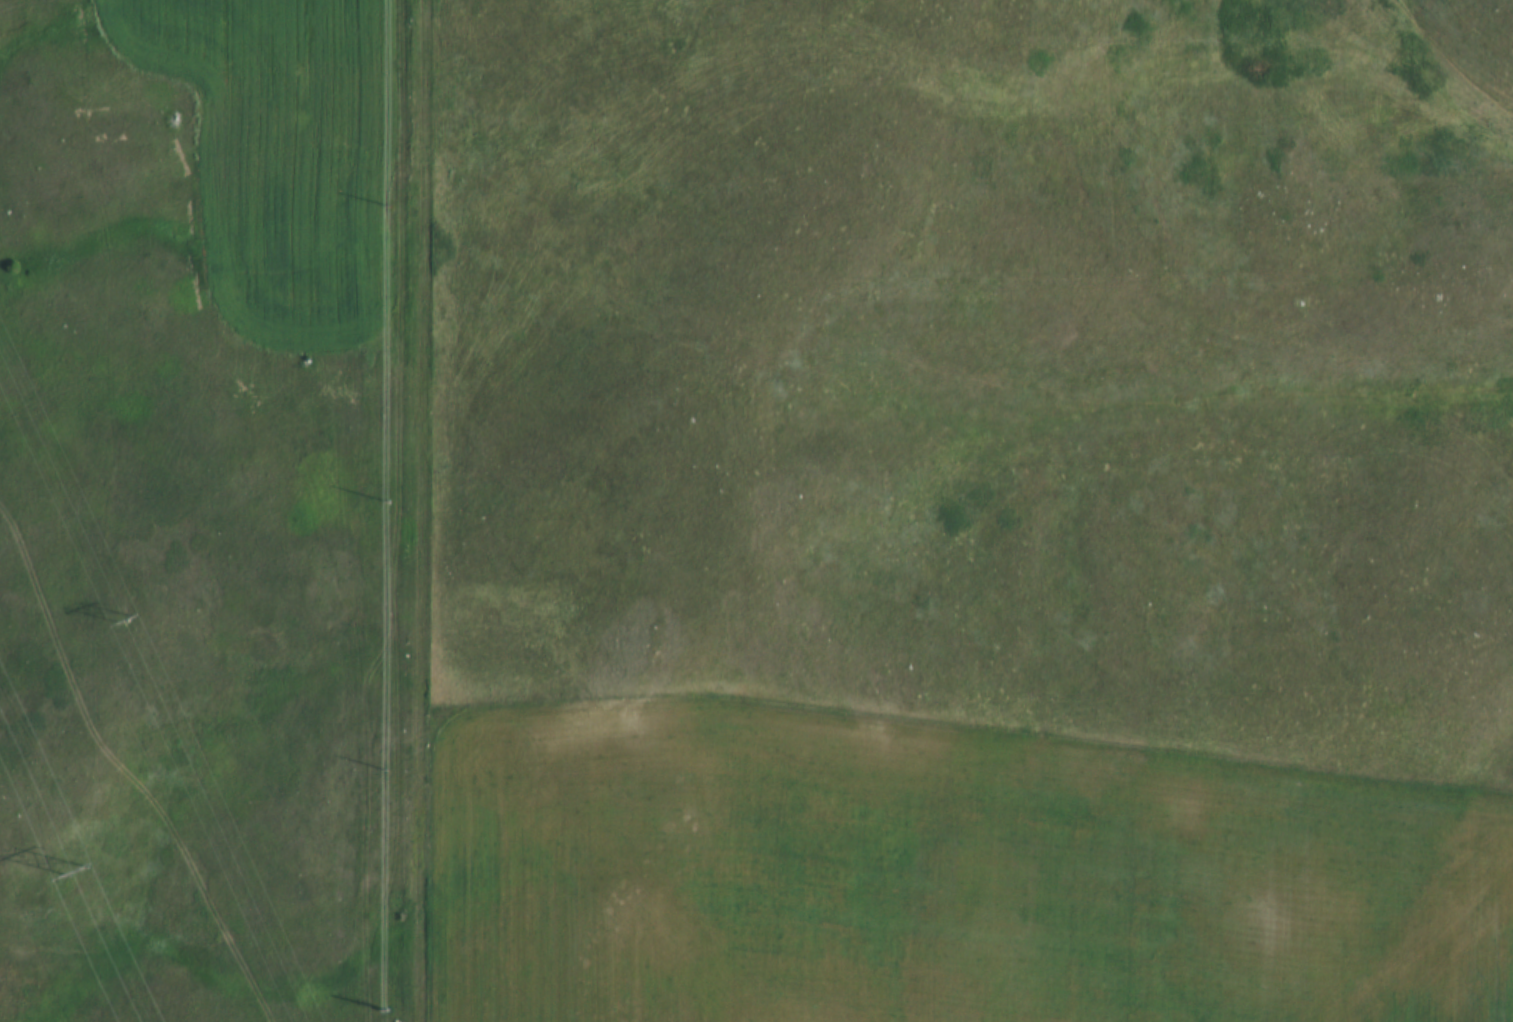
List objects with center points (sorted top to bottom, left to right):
power tower: (113, 626)

